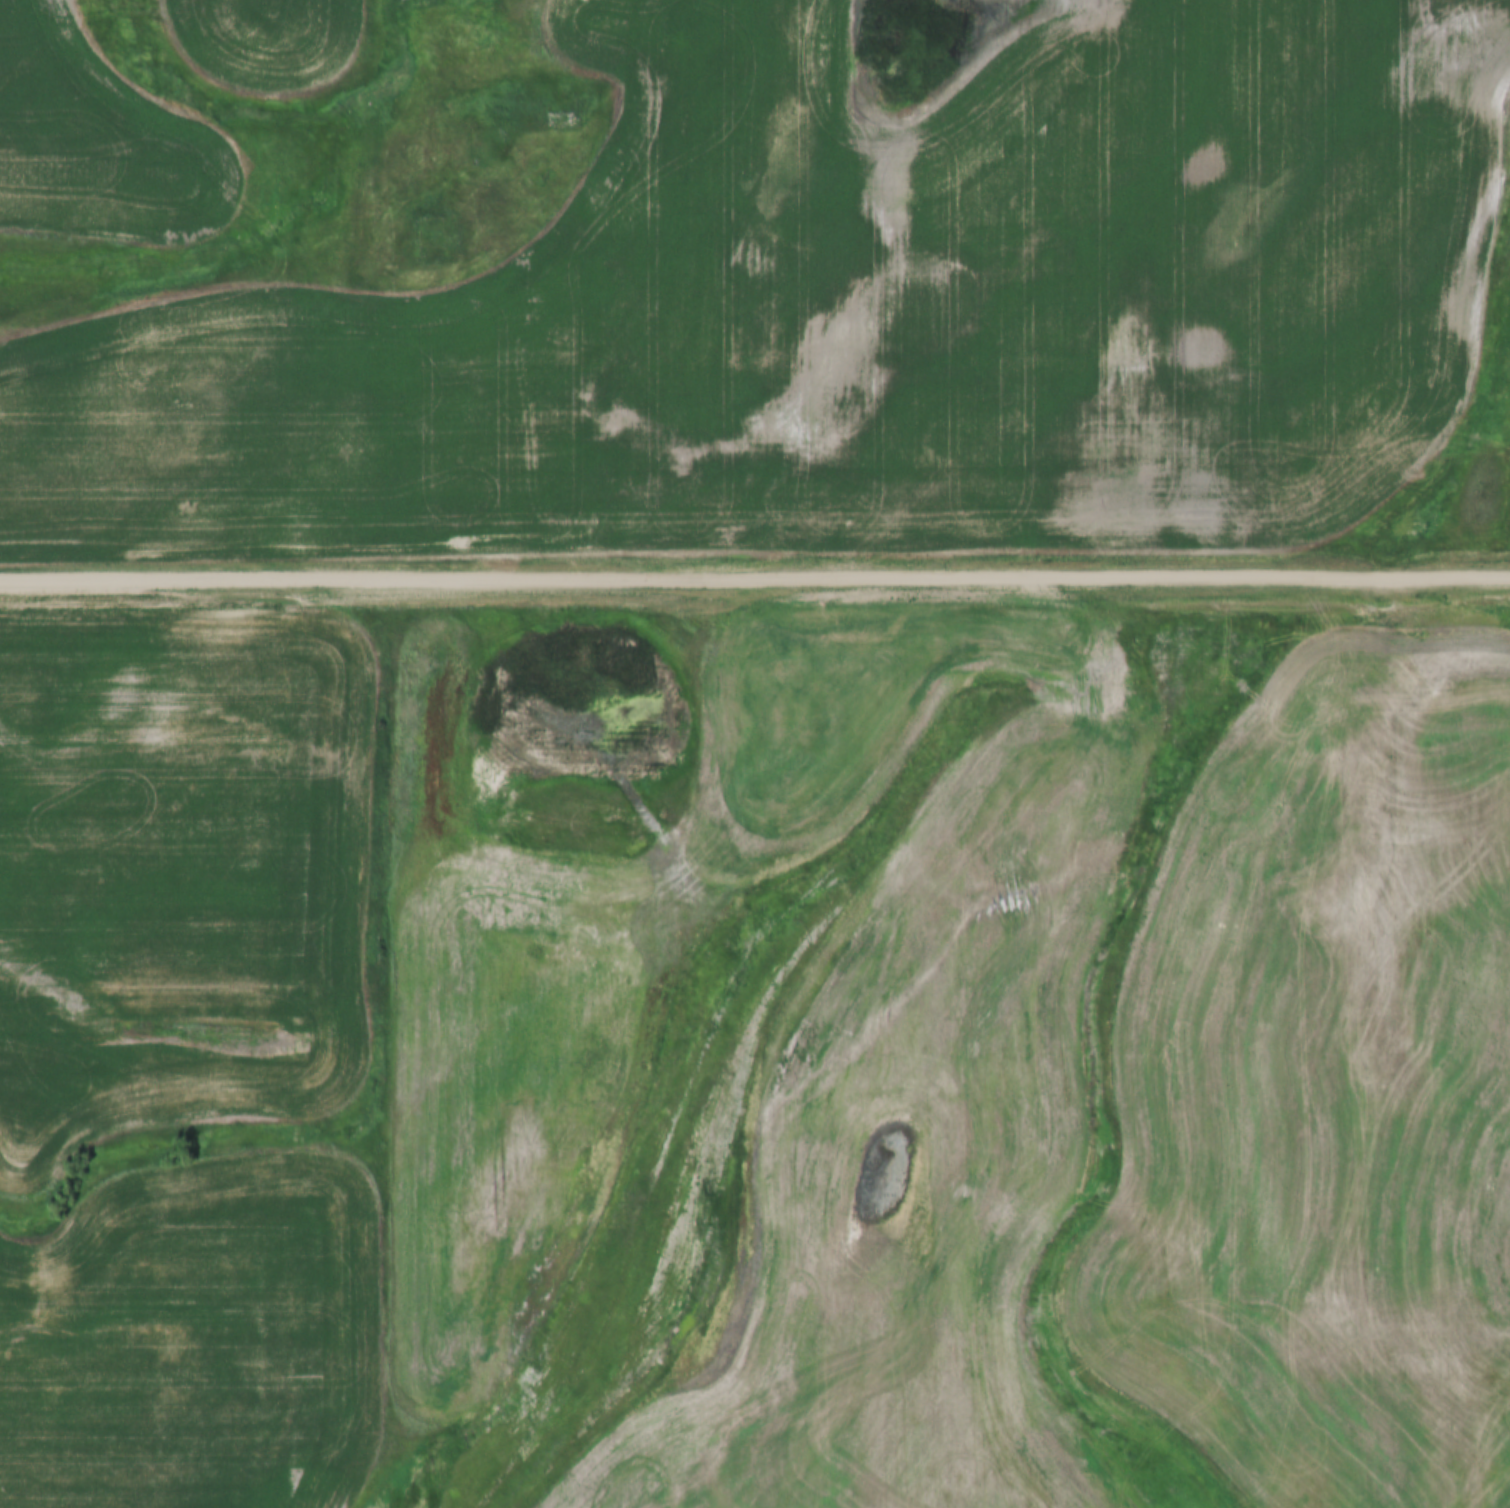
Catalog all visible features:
road: (755, 577)

